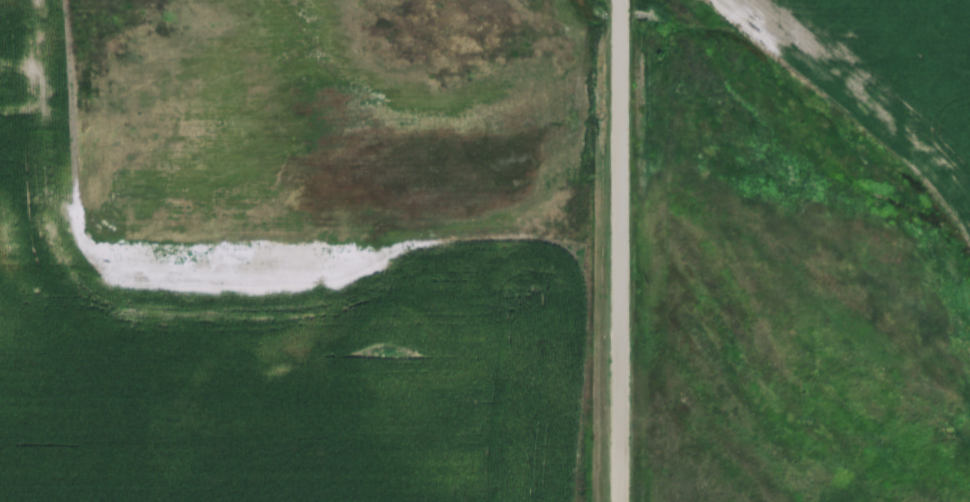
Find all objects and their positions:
road: (621, 251)

